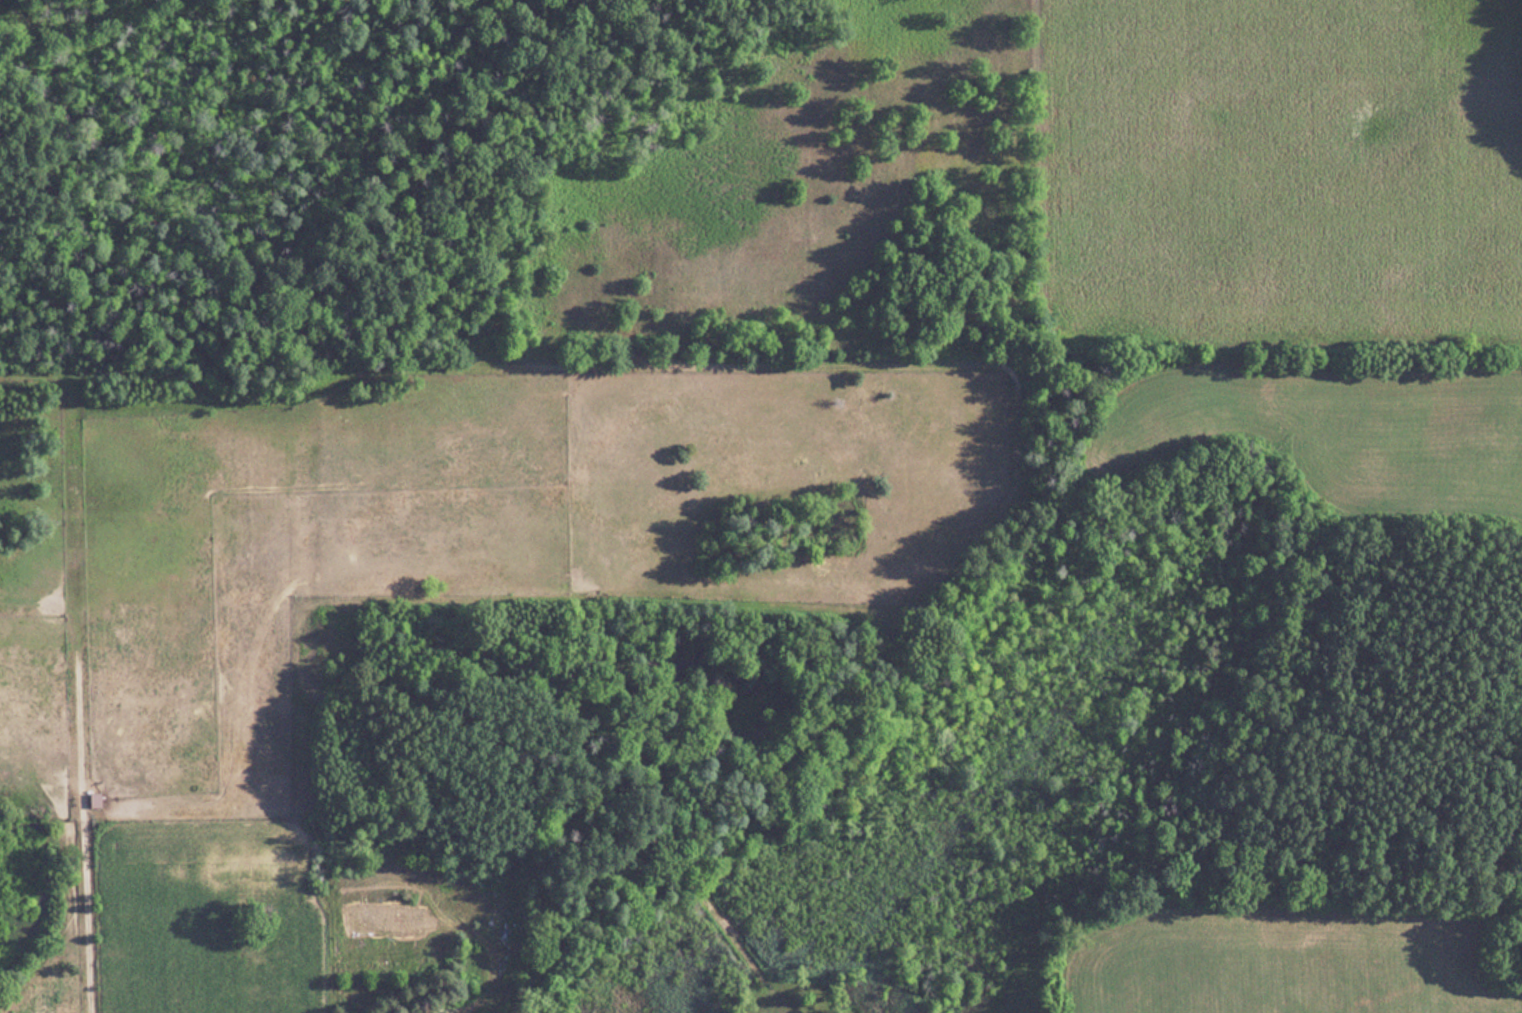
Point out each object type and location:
building: (95, 799)

